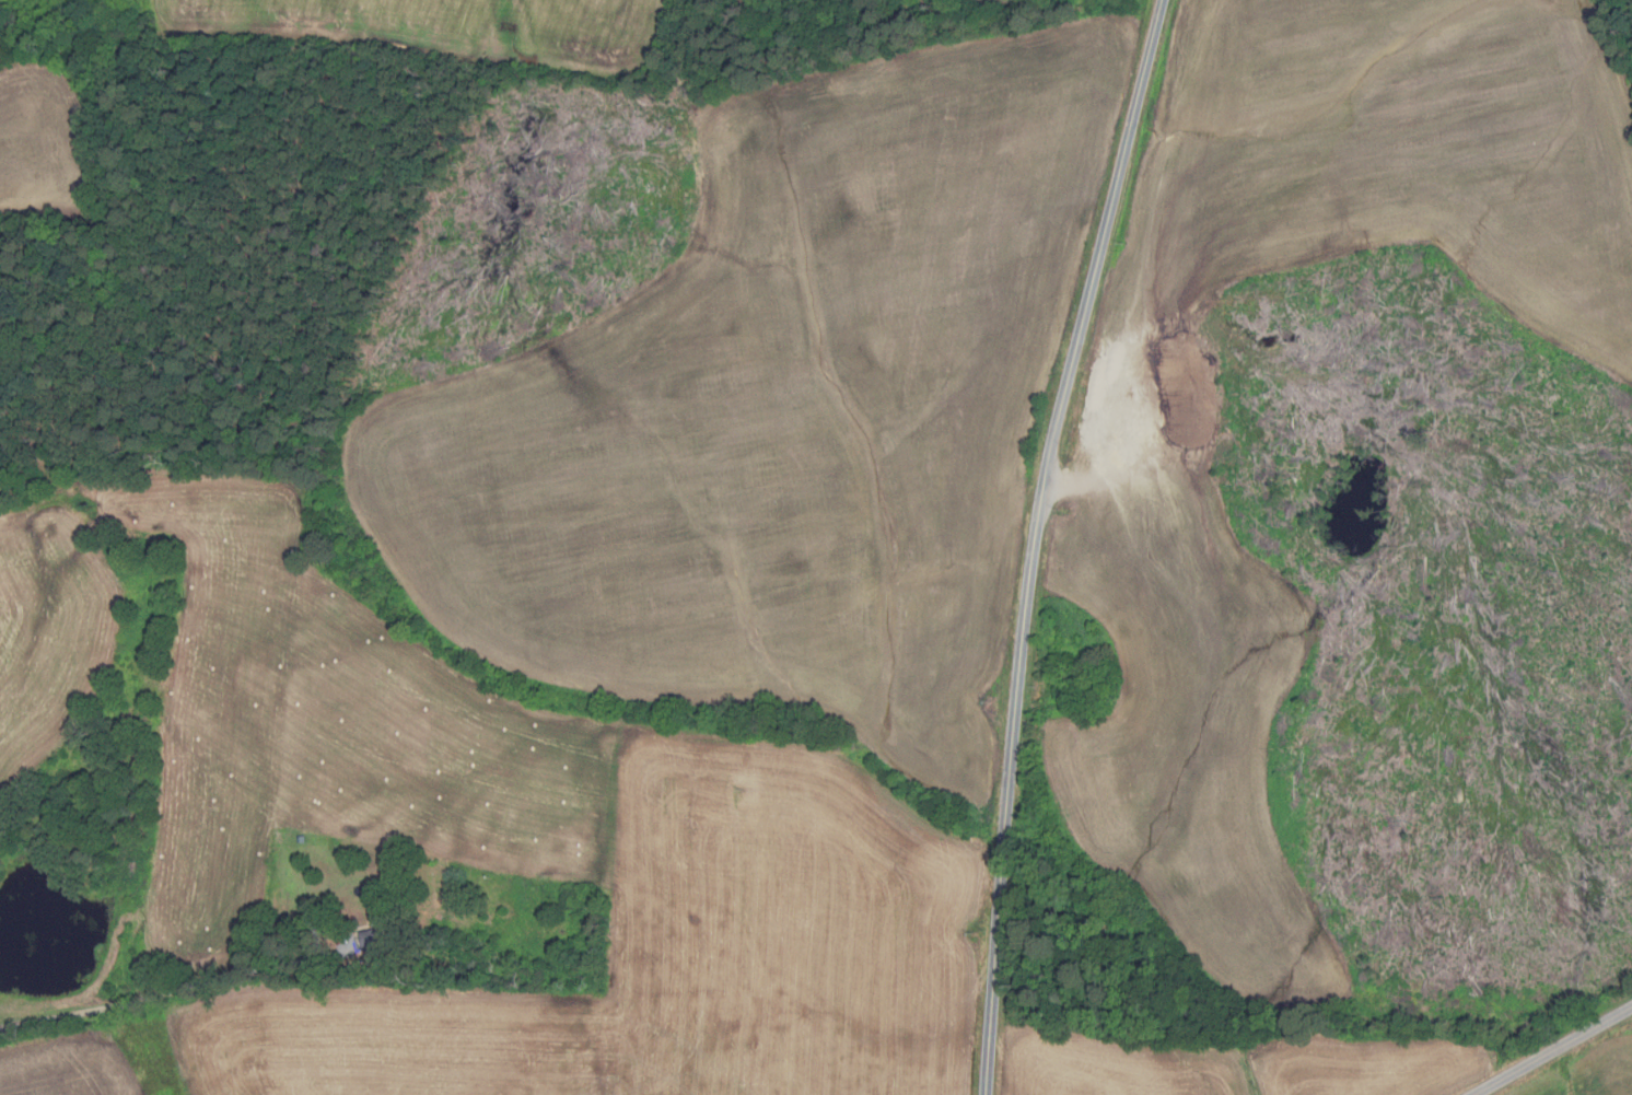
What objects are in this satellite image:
crop: (43, 142)
crop: (43, 142)
crop: (783, 415)
crop: (1141, 449)
road: (1035, 540)
building: (1081, 633)
crop: (485, 830)
building: (436, 918)
building: (376, 939)
road: (179, 989)
road: (1552, 1050)
crop: (1233, 1064)
crop: (68, 1067)
crop: (1588, 1071)

